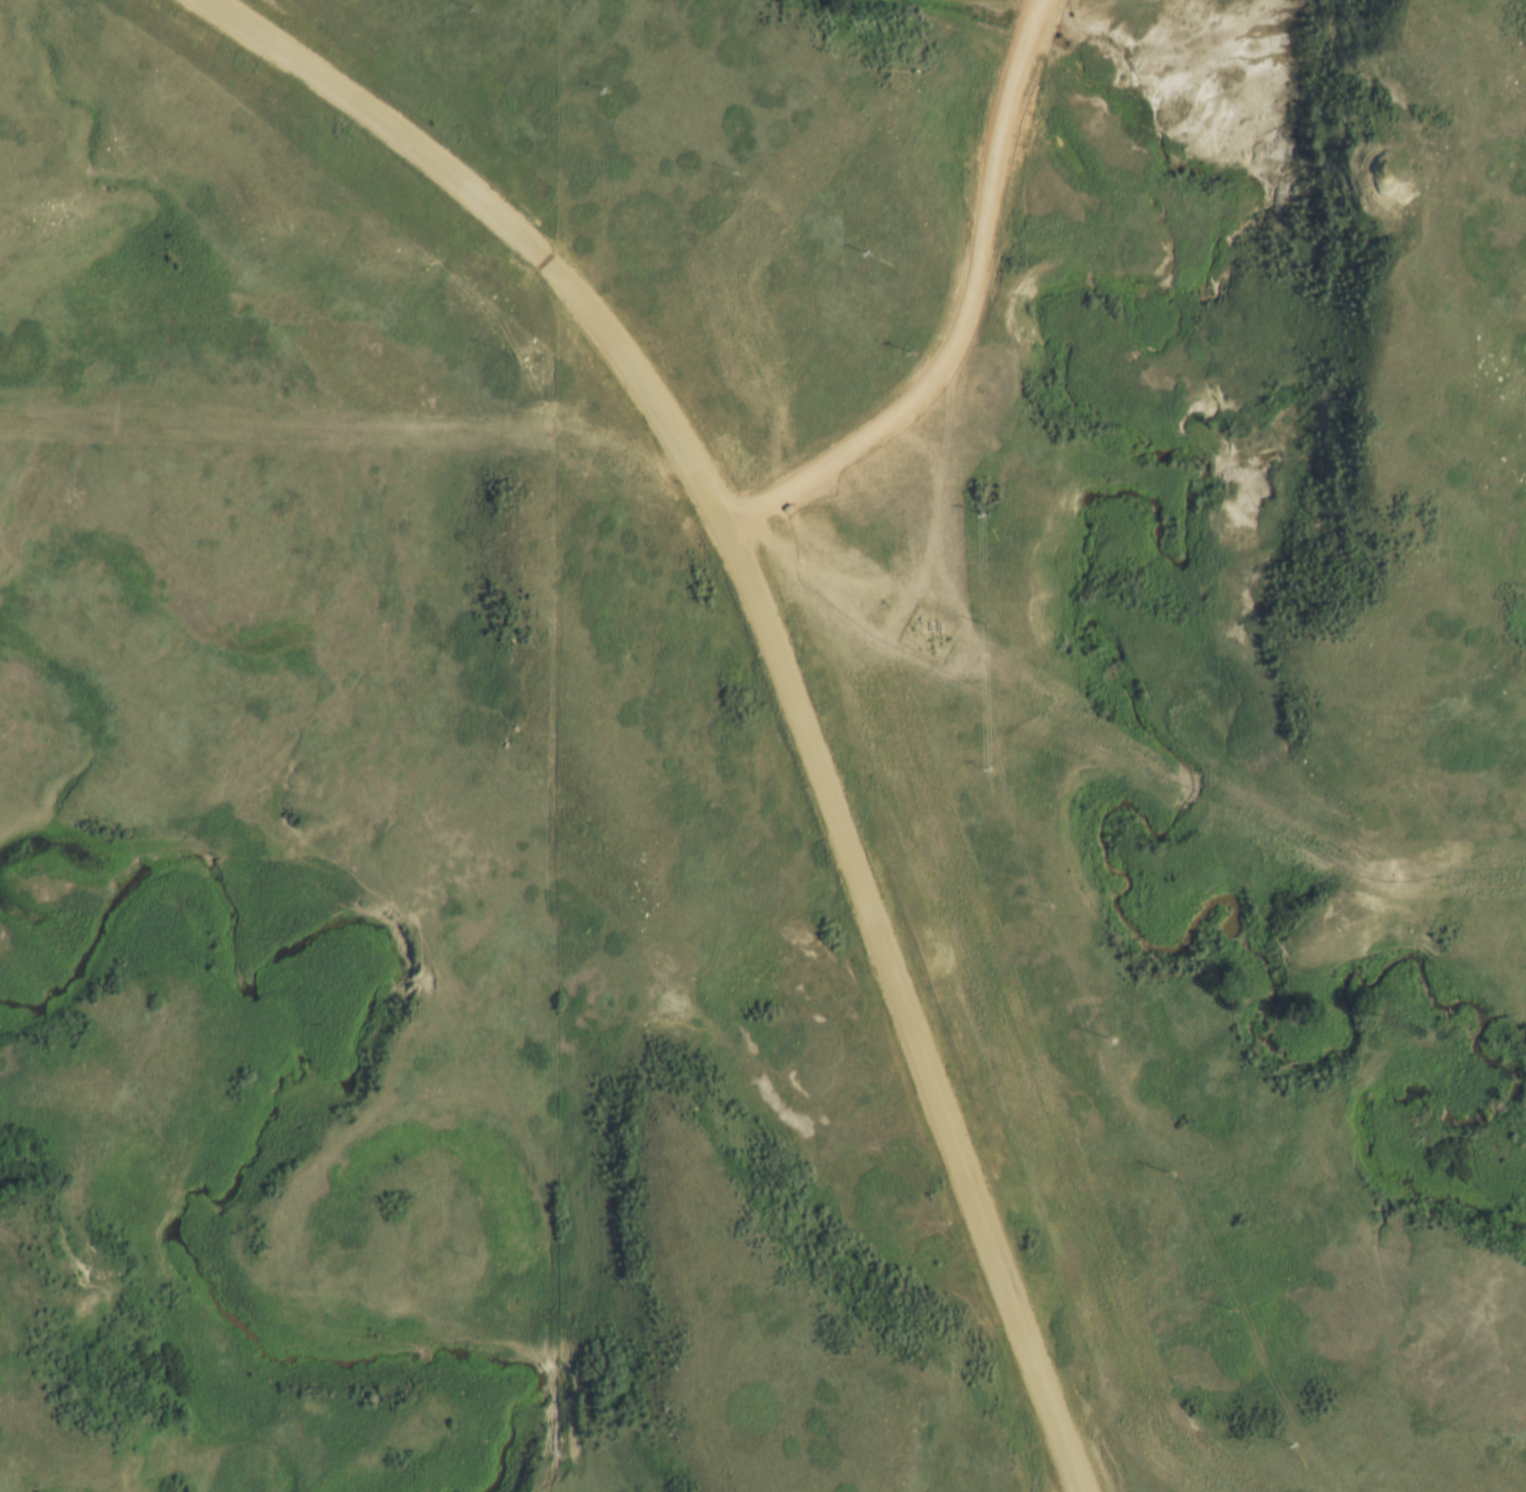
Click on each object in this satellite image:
road: (958, 313)
road: (774, 654)

